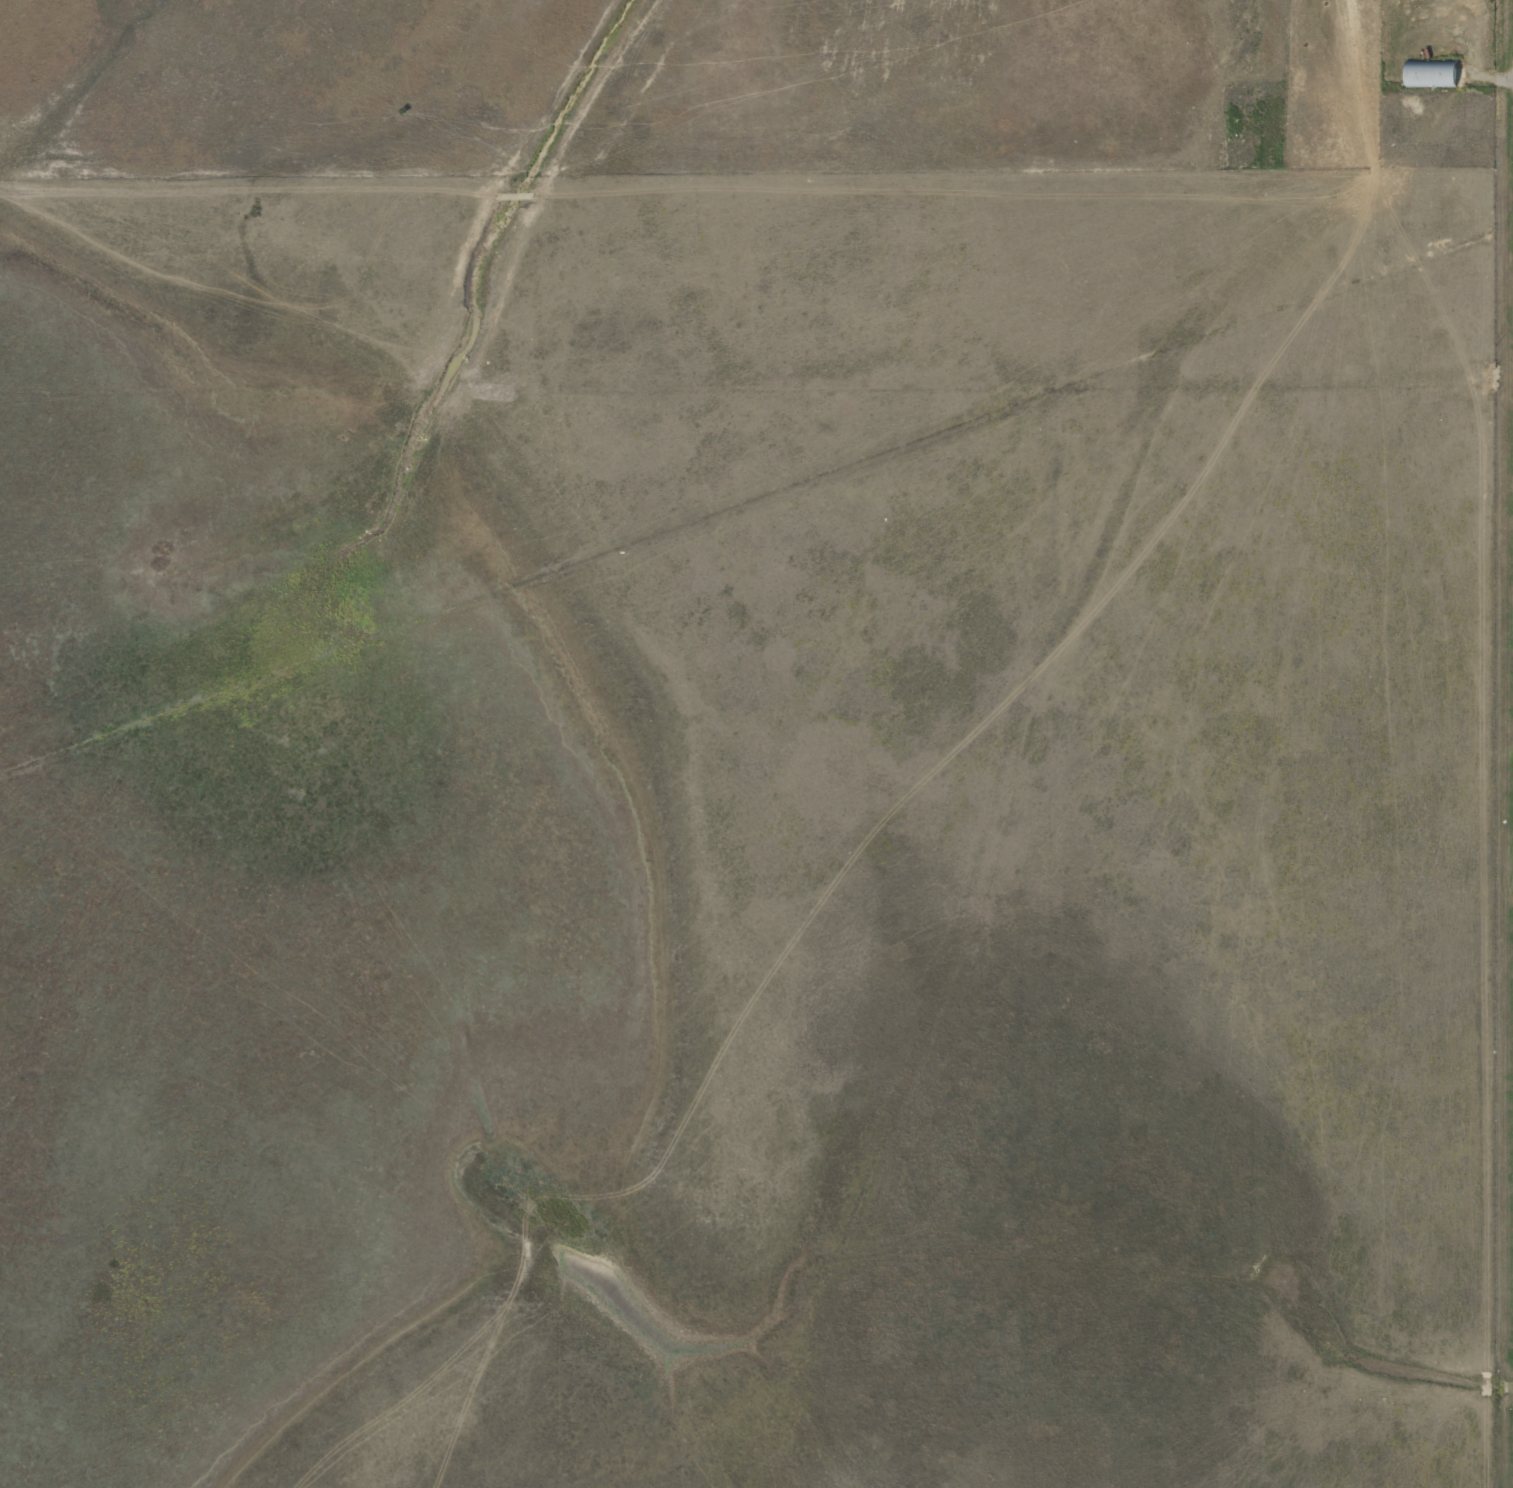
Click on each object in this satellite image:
building: (1433, 66)

